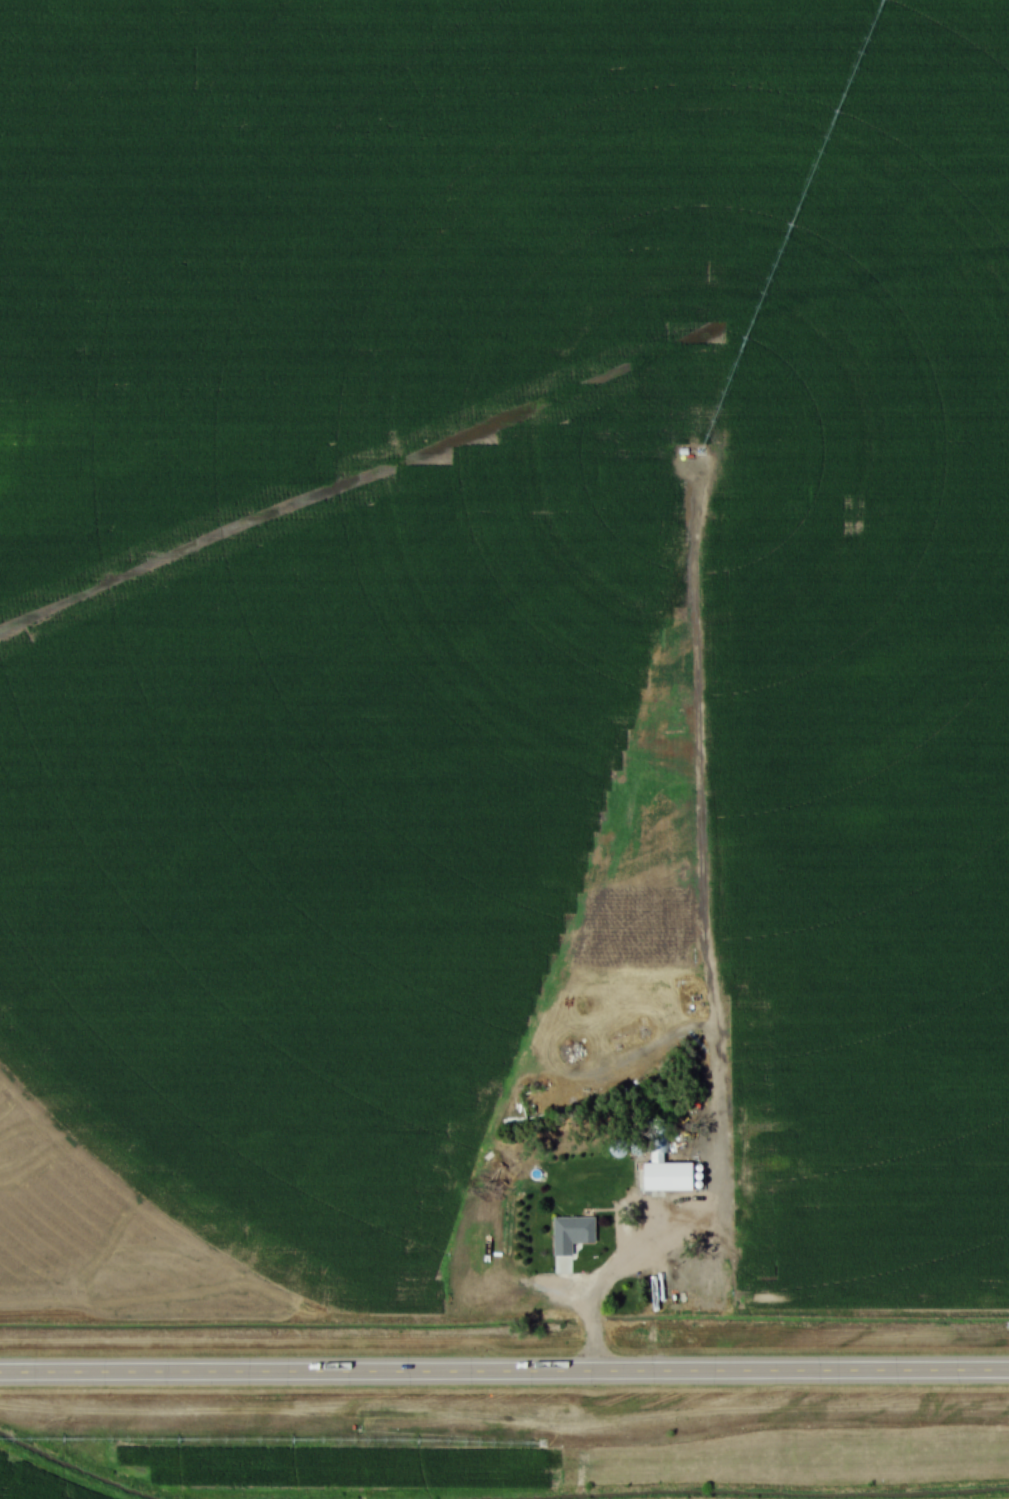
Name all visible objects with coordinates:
building: (667, 1173)
building: (572, 1234)
road: (654, 1284)
building: (715, 1298)
road: (504, 1372)

